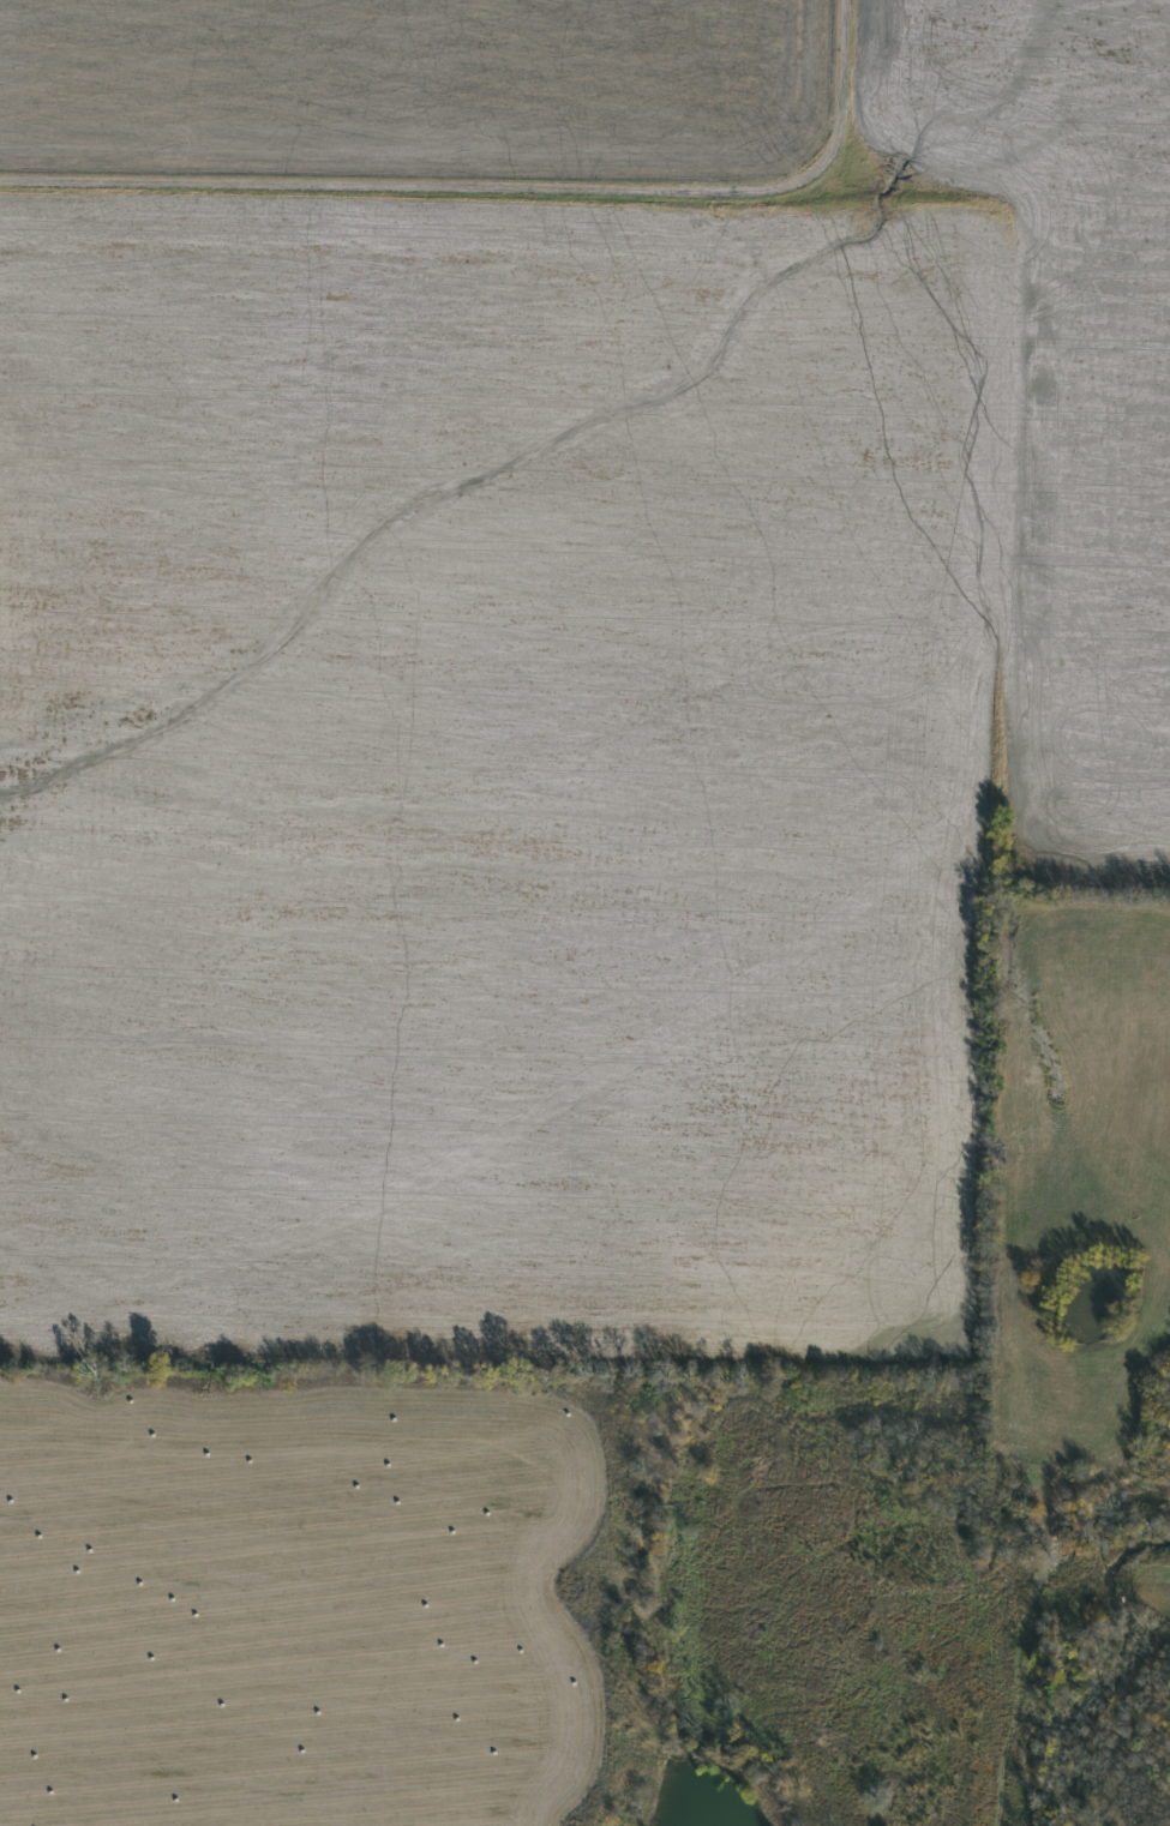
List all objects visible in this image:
road: (503, 187)

